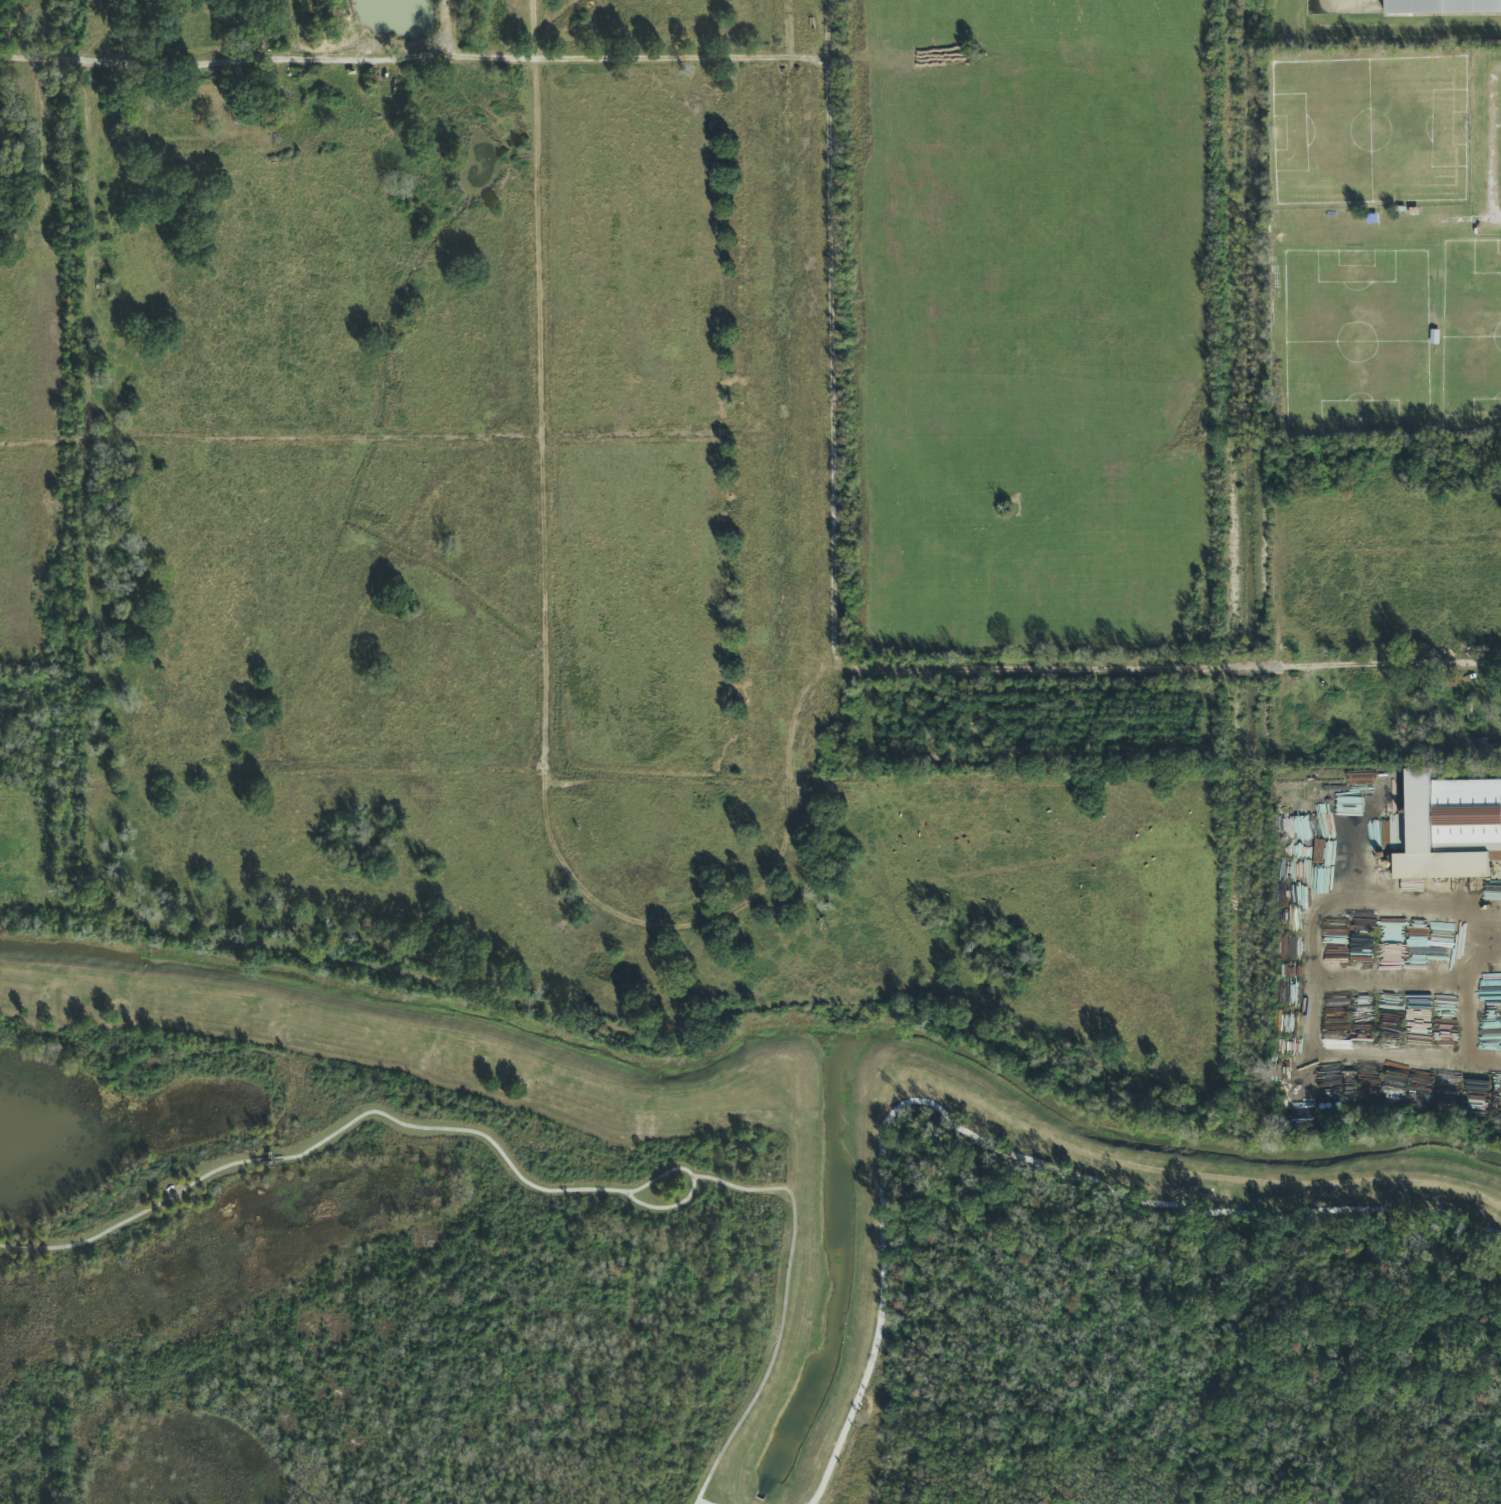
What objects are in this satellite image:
building: (1442, 7)
road: (454, 28)
road: (416, 65)
road: (1493, 145)
road: (835, 382)
road: (1244, 554)
road: (1169, 671)
road: (1171, 754)
road: (63, 776)
building: (1448, 828)
building: (1491, 890)
river: (761, 1022)
road: (337, 1131)
road: (694, 1185)
road: (7, 1247)
road: (29, 1249)
park: (686, 1269)
road: (785, 1309)

